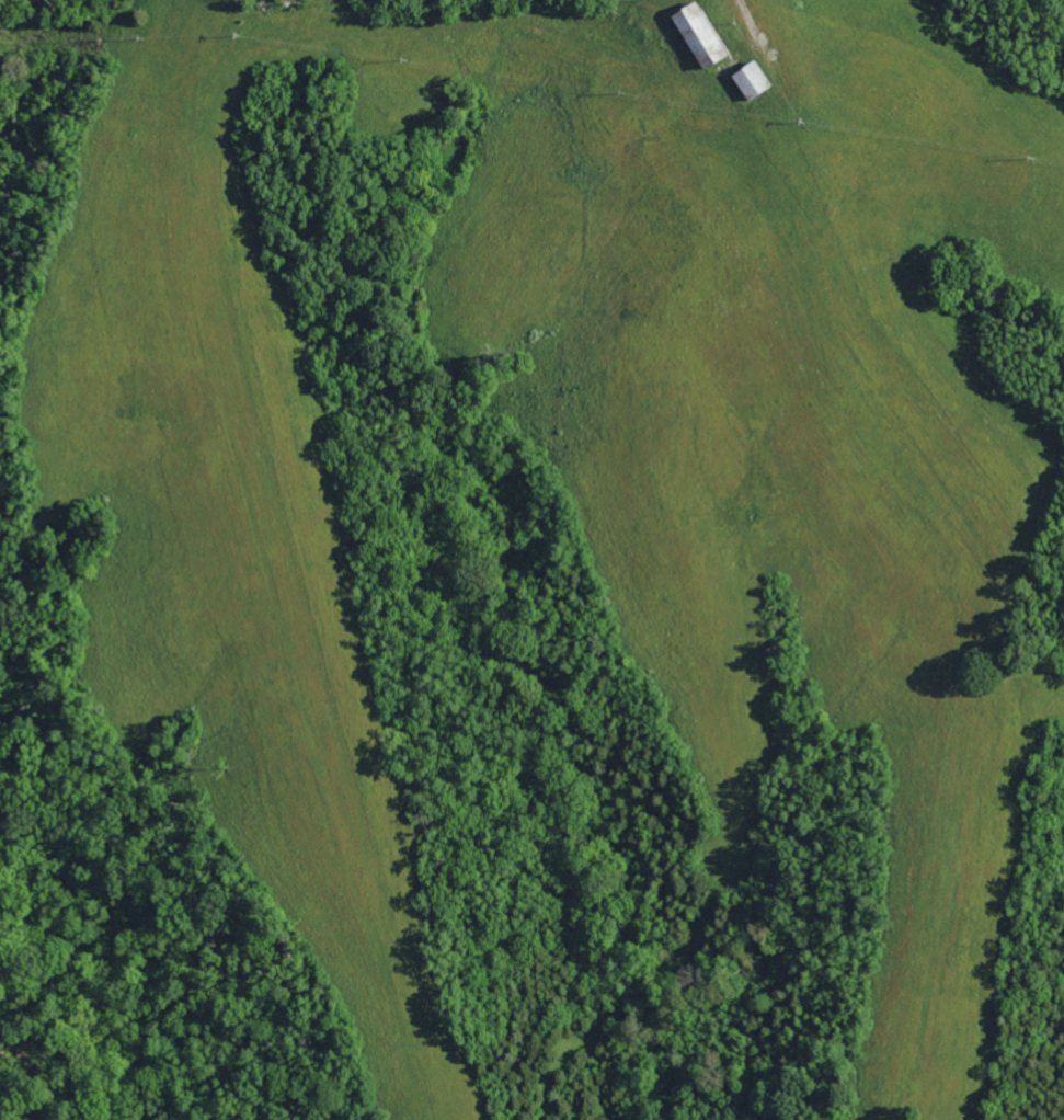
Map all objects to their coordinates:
building: (694, 33)
road: (760, 35)
building: (746, 78)

